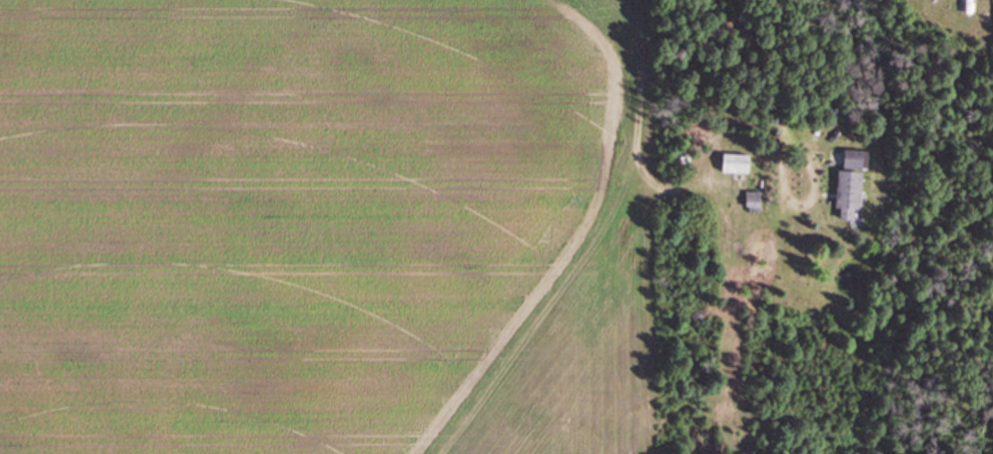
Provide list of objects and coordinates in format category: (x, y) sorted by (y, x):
building: (739, 163)
building: (855, 186)
crop: (331, 227)

